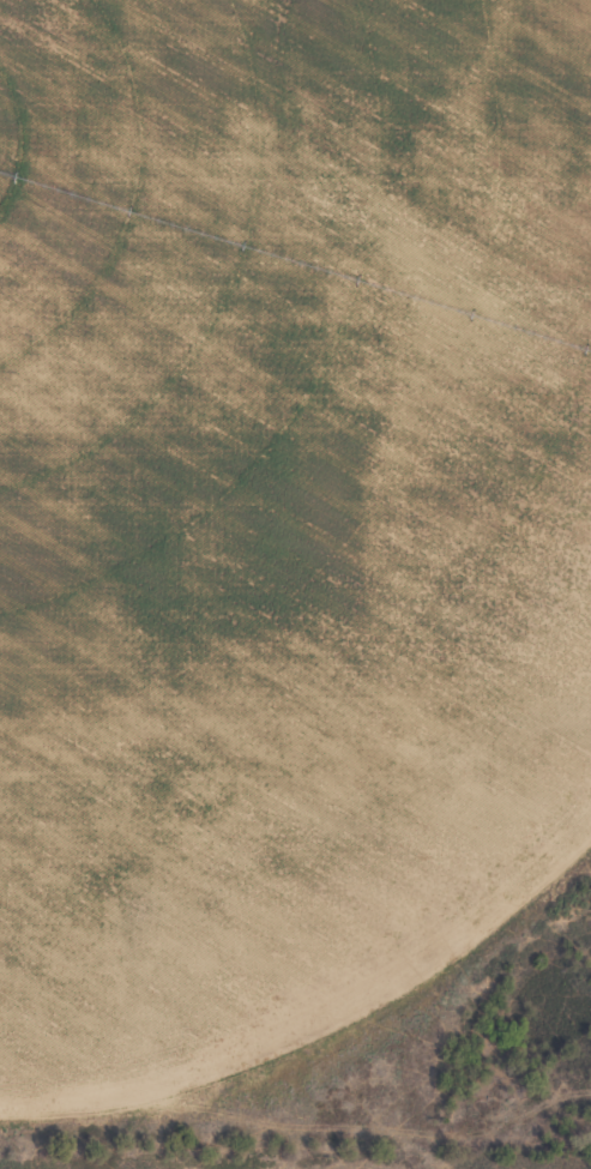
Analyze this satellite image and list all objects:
crop: (295, 584)

